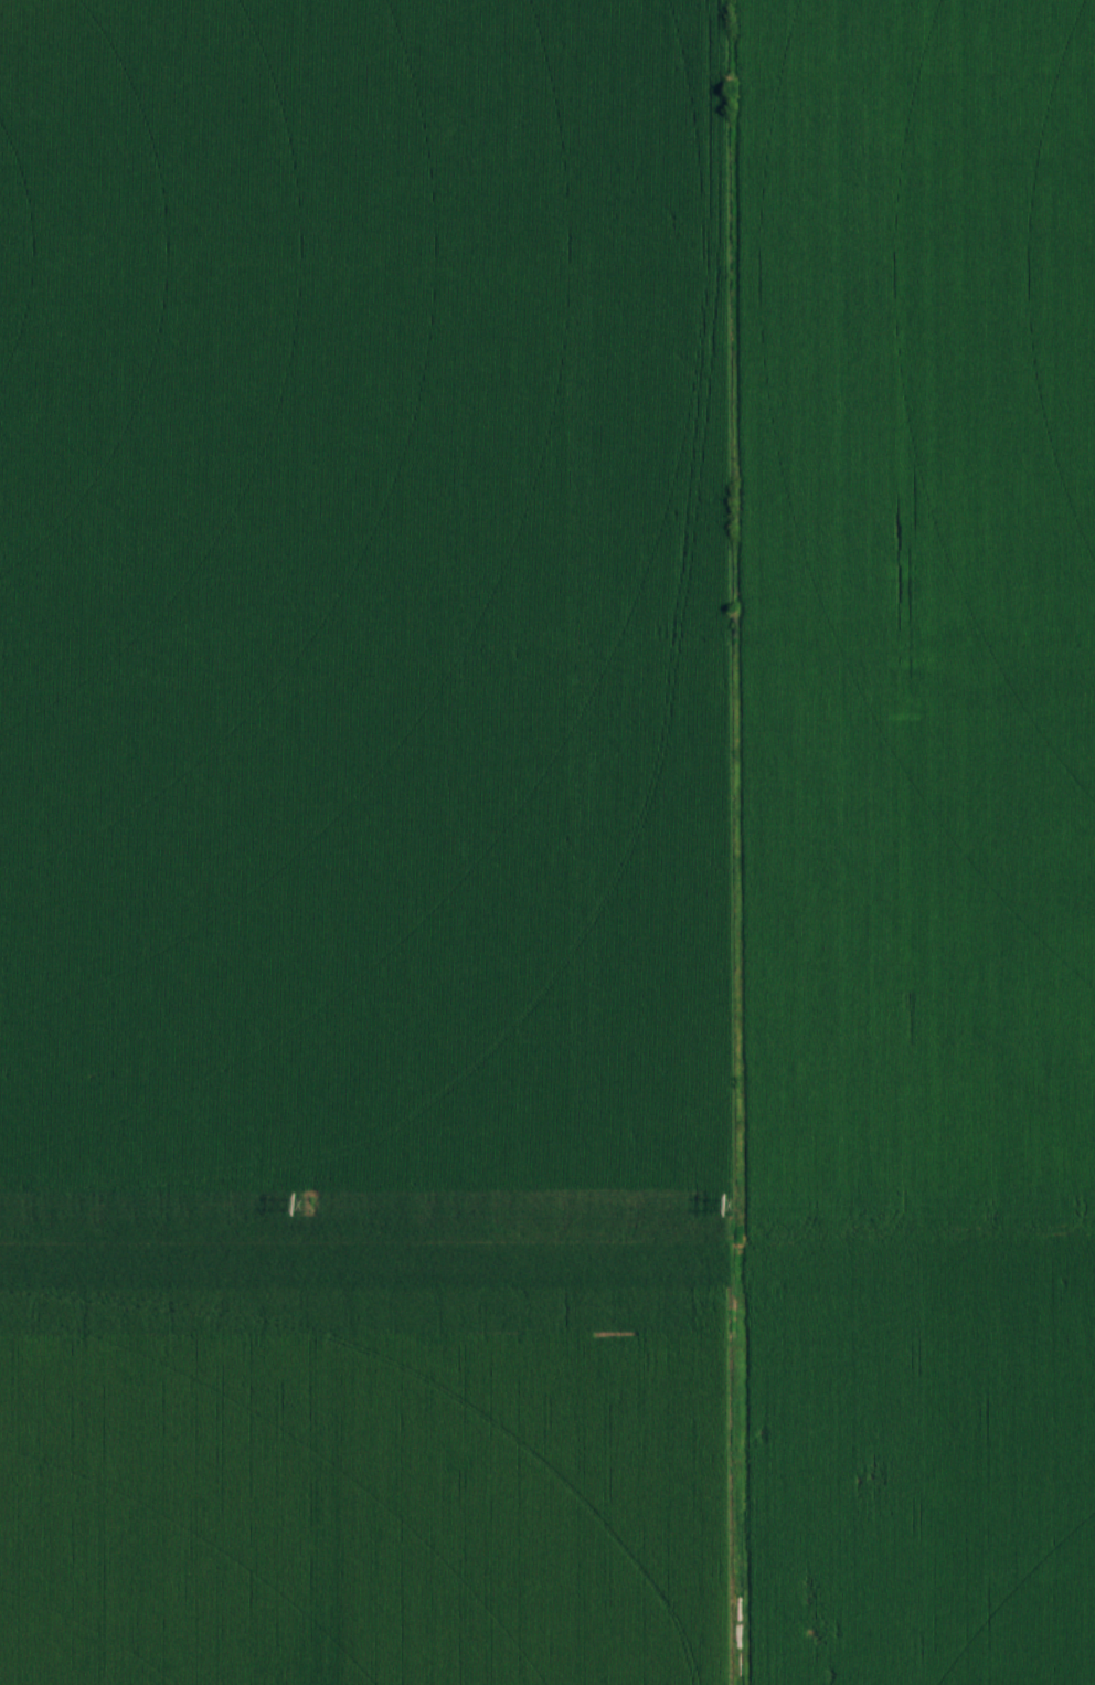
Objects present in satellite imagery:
power tower: (315, 1206)
power tower: (743, 1207)

